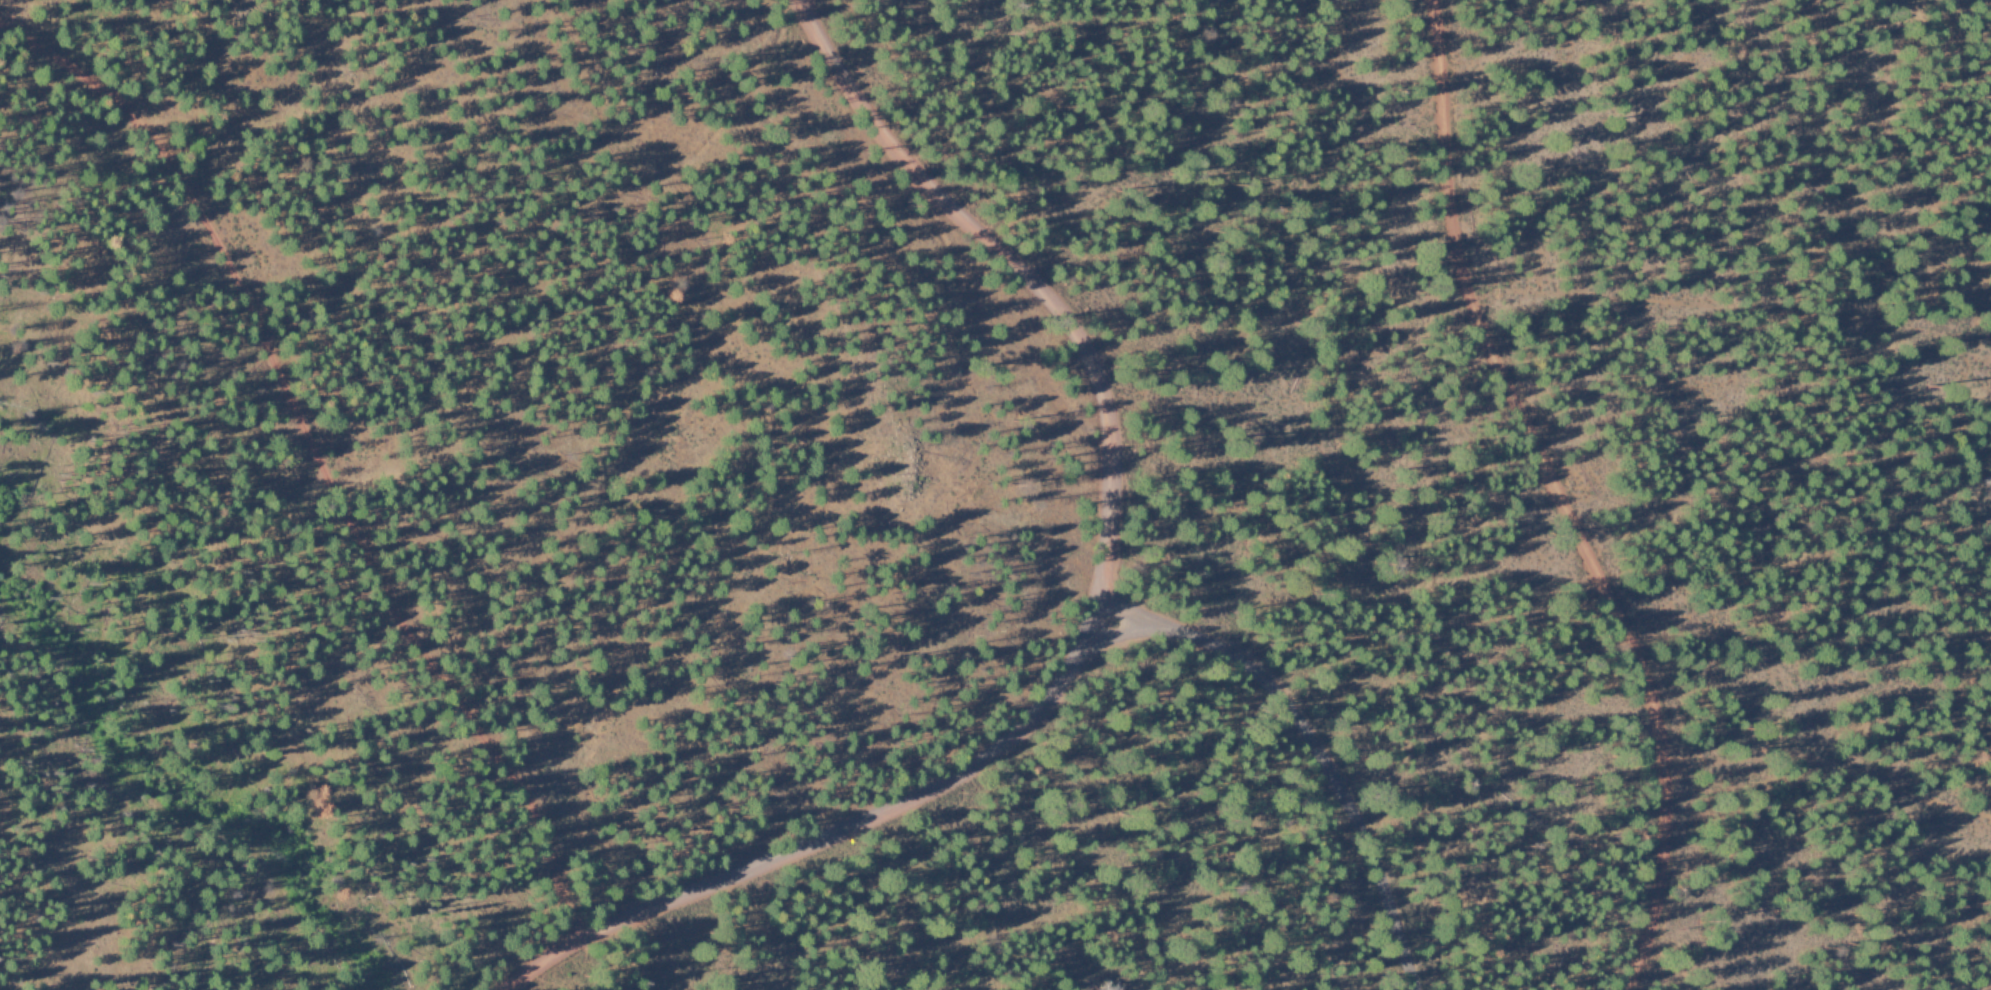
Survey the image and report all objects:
road: (796, 6)
road: (317, 457)
road: (1574, 495)
road: (1094, 610)
road: (1295, 758)

